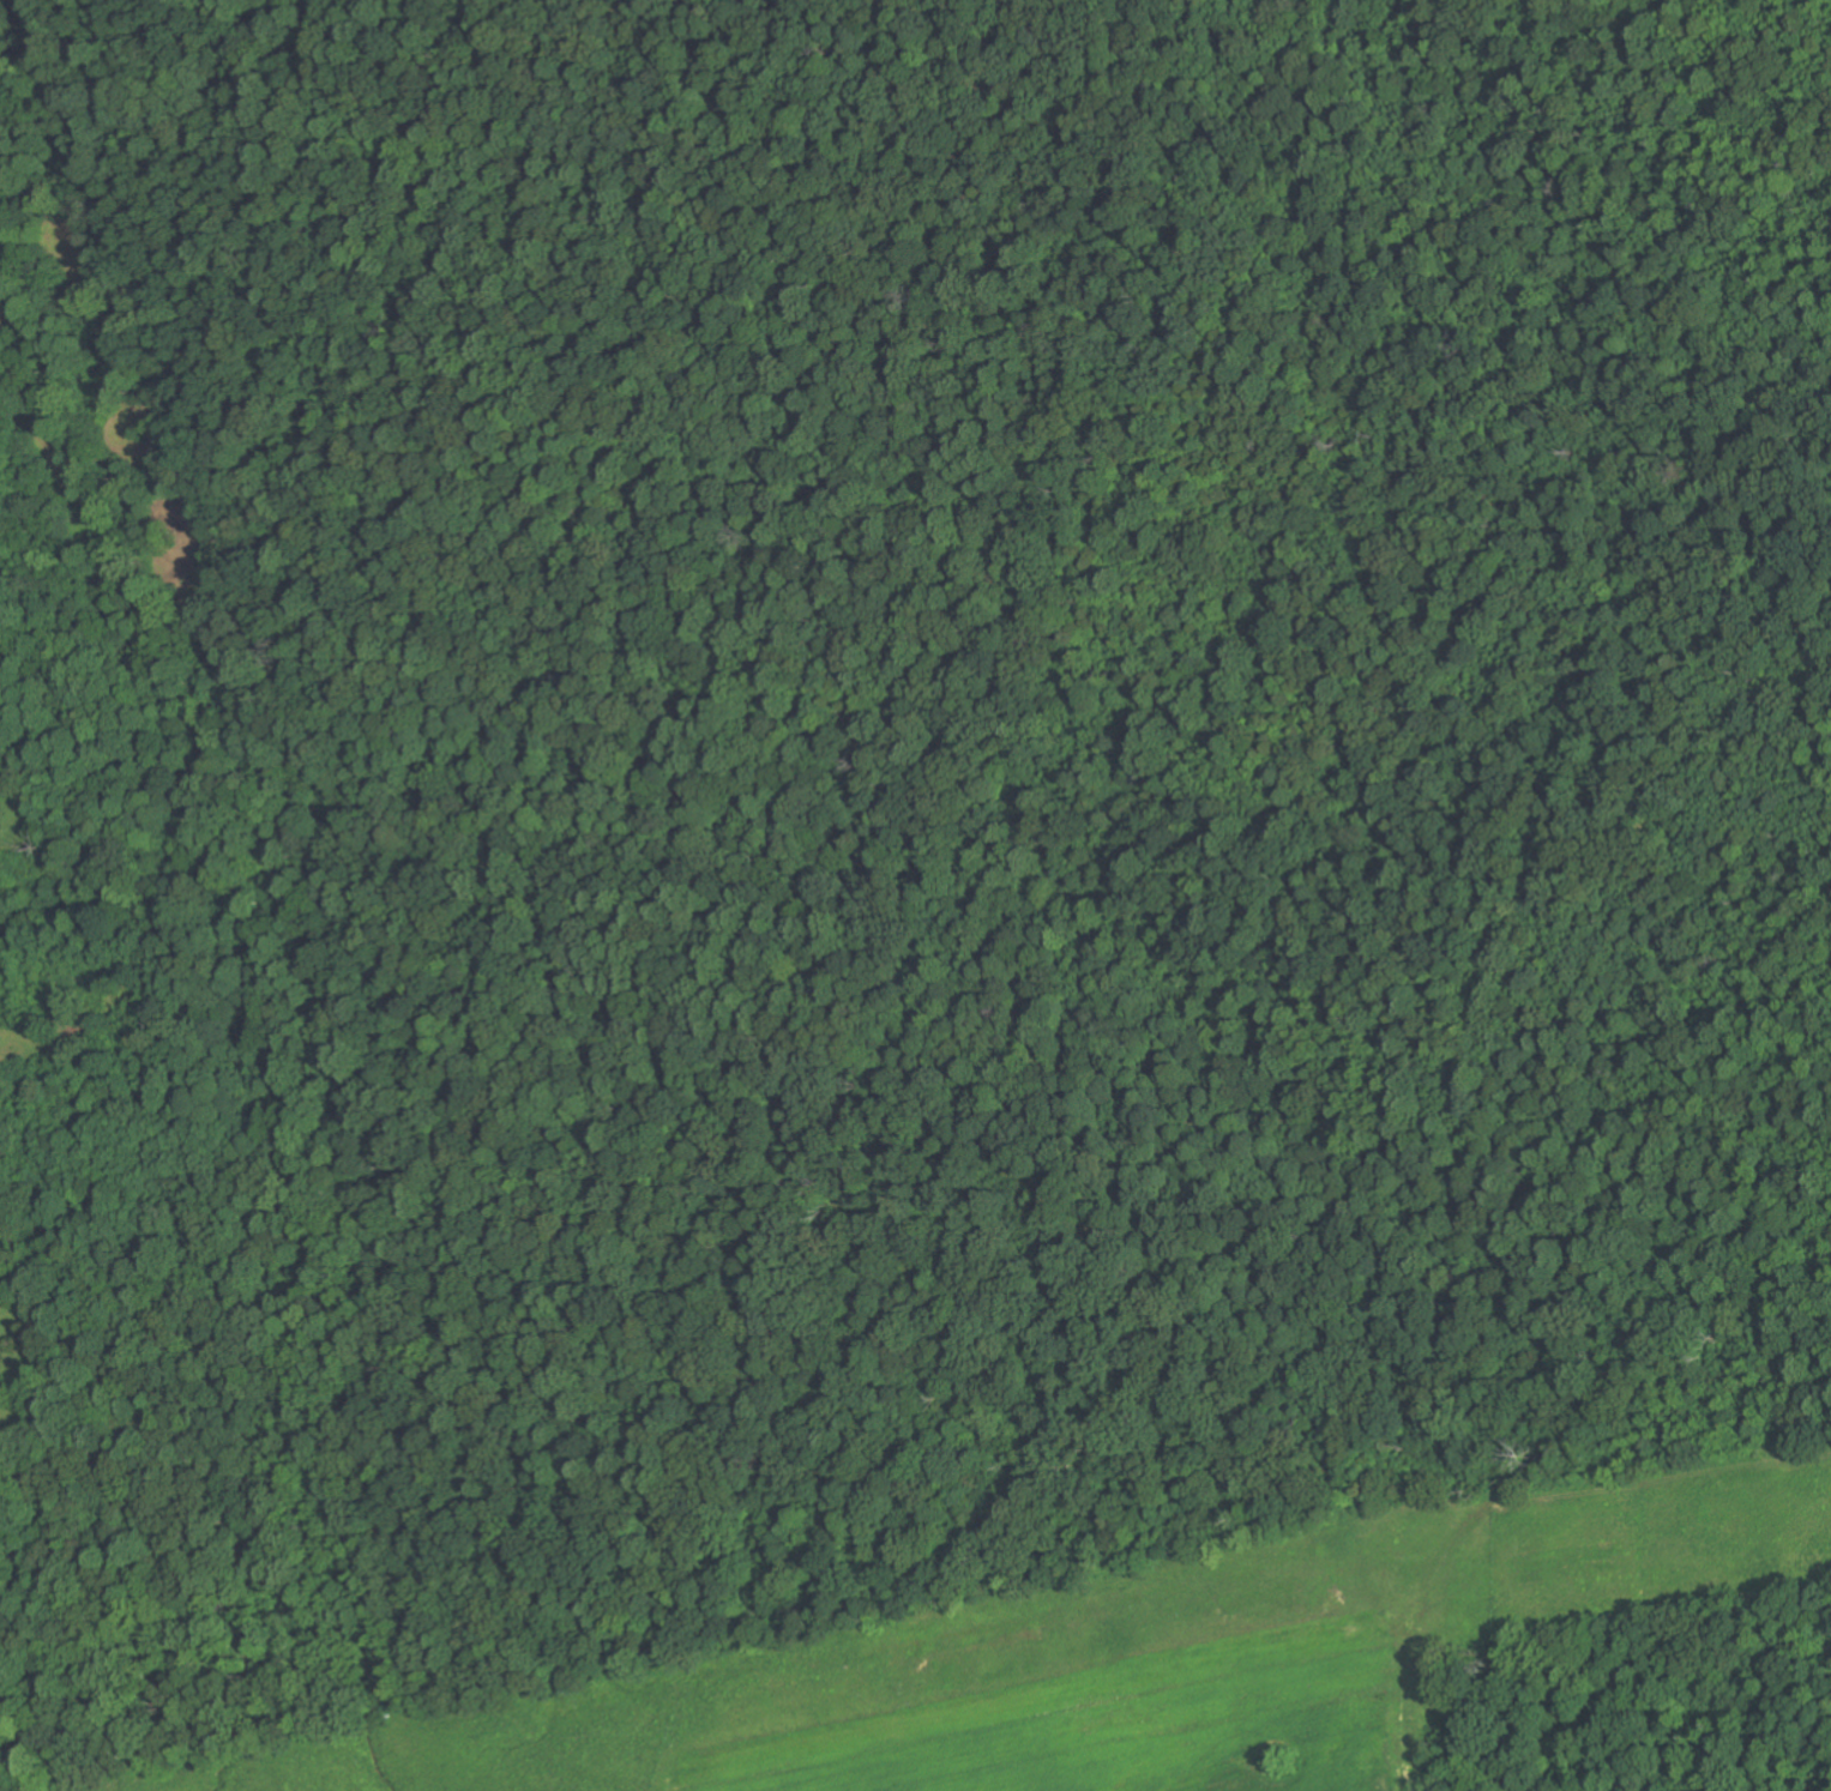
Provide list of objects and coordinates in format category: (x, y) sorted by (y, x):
road: (1574, 1449)

